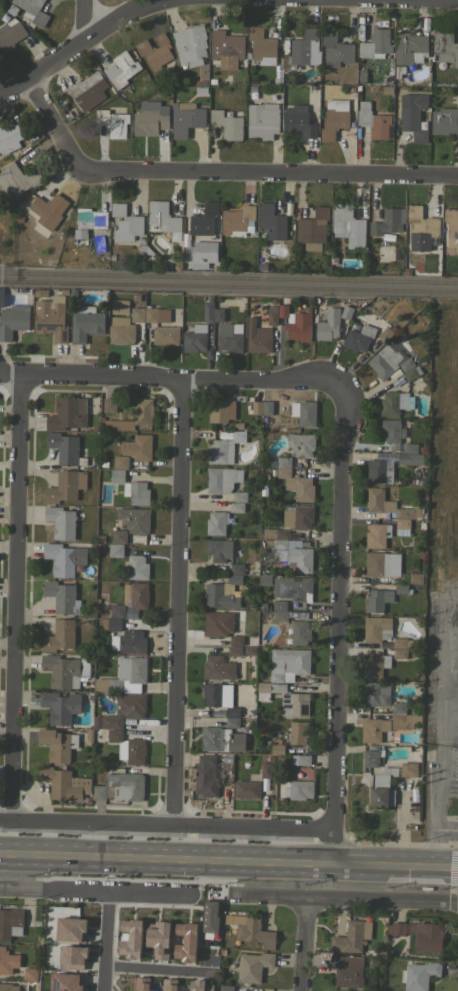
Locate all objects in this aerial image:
building: (32, 11)
road: (85, 20)
building: (10, 34)
building: (376, 44)
road: (78, 45)
building: (190, 45)
building: (261, 45)
building: (445, 46)
building: (226, 48)
building: (410, 48)
building: (303, 50)
building: (336, 50)
building: (155, 51)
building: (121, 69)
building: (88, 90)
building: (412, 115)
building: (186, 118)
building: (334, 118)
building: (150, 120)
building: (263, 120)
building: (374, 121)
building: (445, 122)
building: (113, 123)
building: (298, 123)
building: (227, 124)
building: (12, 137)
road: (217, 174)
building: (18, 179)
building: (48, 210)
building: (204, 218)
building: (88, 221)
building: (164, 221)
building: (238, 221)
building: (388, 221)
building: (271, 222)
building: (126, 223)
building: (347, 225)
building: (452, 225)
building: (312, 229)
building: (421, 229)
building: (397, 237)
building: (142, 240)
building: (142, 247)
building: (380, 251)
building: (149, 252)
building: (201, 253)
building: (260, 253)
building: (143, 254)
building: (150, 259)
building: (332, 260)
building: (165, 262)
building: (407, 271)
railway: (229, 274)
railway: (228, 286)
building: (1, 295)
building: (273, 301)
building: (118, 305)
building: (208, 311)
building: (346, 311)
building: (137, 314)
building: (157, 314)
building: (218, 314)
building: (272, 314)
building: (51, 317)
building: (13, 320)
building: (342, 322)
building: (85, 323)
building: (296, 323)
building: (327, 324)
building: (121, 330)
building: (384, 333)
building: (165, 335)
building: (231, 337)
building: (258, 337)
building: (359, 338)
building: (195, 339)
building: (384, 361)
building: (406, 364)
building: (412, 373)
road: (169, 380)
building: (395, 402)
building: (109, 405)
building: (256, 407)
building: (267, 407)
building: (221, 411)
building: (304, 412)
building: (67, 413)
building: (134, 416)
building: (237, 425)
building: (392, 432)
building: (302, 444)
building: (138, 447)
building: (65, 448)
building: (224, 448)
building: (411, 448)
building: (421, 448)
building: (283, 461)
building: (121, 462)
building: (103, 463)
building: (388, 465)
building: (272, 471)
building: (283, 472)
building: (117, 475)
building: (223, 479)
building: (65, 486)
building: (300, 488)
building: (262, 489)
building: (137, 492)
building: (239, 496)
building: (378, 500)
building: (237, 507)
building: (408, 512)
building: (134, 520)
building: (61, 522)
building: (216, 522)
building: (291, 522)
building: (403, 526)
building: (377, 535)
building: (119, 536)
building: (99, 538)
building: (116, 549)
building: (219, 549)
building: (293, 553)
building: (63, 558)
building: (382, 563)
building: (136, 567)
building: (237, 568)
building: (415, 577)
building: (264, 578)
building: (293, 588)
building: (402, 588)
road: (449, 592)
building: (223, 593)
building: (136, 595)
building: (62, 597)
road: (17, 599)
building: (376, 600)
road: (179, 604)
building: (248, 605)
building: (279, 605)
building: (117, 610)
building: (280, 615)
building: (218, 623)
building: (112, 624)
road: (339, 625)
building: (376, 628)
building: (300, 633)
building: (60, 635)
building: (236, 640)
building: (132, 642)
building: (399, 642)
building: (385, 645)
building: (234, 650)
building: (249, 651)
building: (400, 653)
building: (290, 664)
building: (375, 665)
building: (218, 668)
building: (63, 669)
road: (440, 672)
building: (124, 675)
road: (449, 688)
building: (268, 689)
building: (376, 693)
building: (215, 694)
building: (294, 704)
building: (130, 705)
building: (60, 706)
building: (398, 707)
building: (232, 712)
building: (250, 714)
building: (403, 720)
building: (107, 721)
building: (232, 722)
building: (373, 729)
building: (296, 732)
building: (221, 739)
building: (58, 744)
building: (128, 746)
building: (277, 749)
building: (371, 757)
building: (270, 759)
building: (226, 760)
building: (293, 760)
building: (303, 760)
building: (408, 769)
building: (266, 770)
building: (209, 775)
building: (250, 777)
building: (64, 783)
building: (120, 787)
building: (382, 787)
building: (246, 789)
building: (299, 789)
road: (433, 807)
road: (167, 827)
road: (445, 830)
road: (229, 861)
road: (90, 893)
road: (342, 901)
building: (205, 918)
building: (10, 922)
building: (395, 928)
building: (64, 931)
building: (254, 931)
building: (351, 936)
building: (429, 937)
road: (103, 941)
building: (123, 941)
road: (306, 946)
building: (82, 956)
building: (66, 959)
building: (7, 960)
building: (253, 966)
road: (149, 970)
building: (347, 970)
building: (29, 973)
building: (418, 975)
building: (62, 983)
building: (188, 986)
building: (8, 987)
building: (225, 987)
building: (205, 989)

